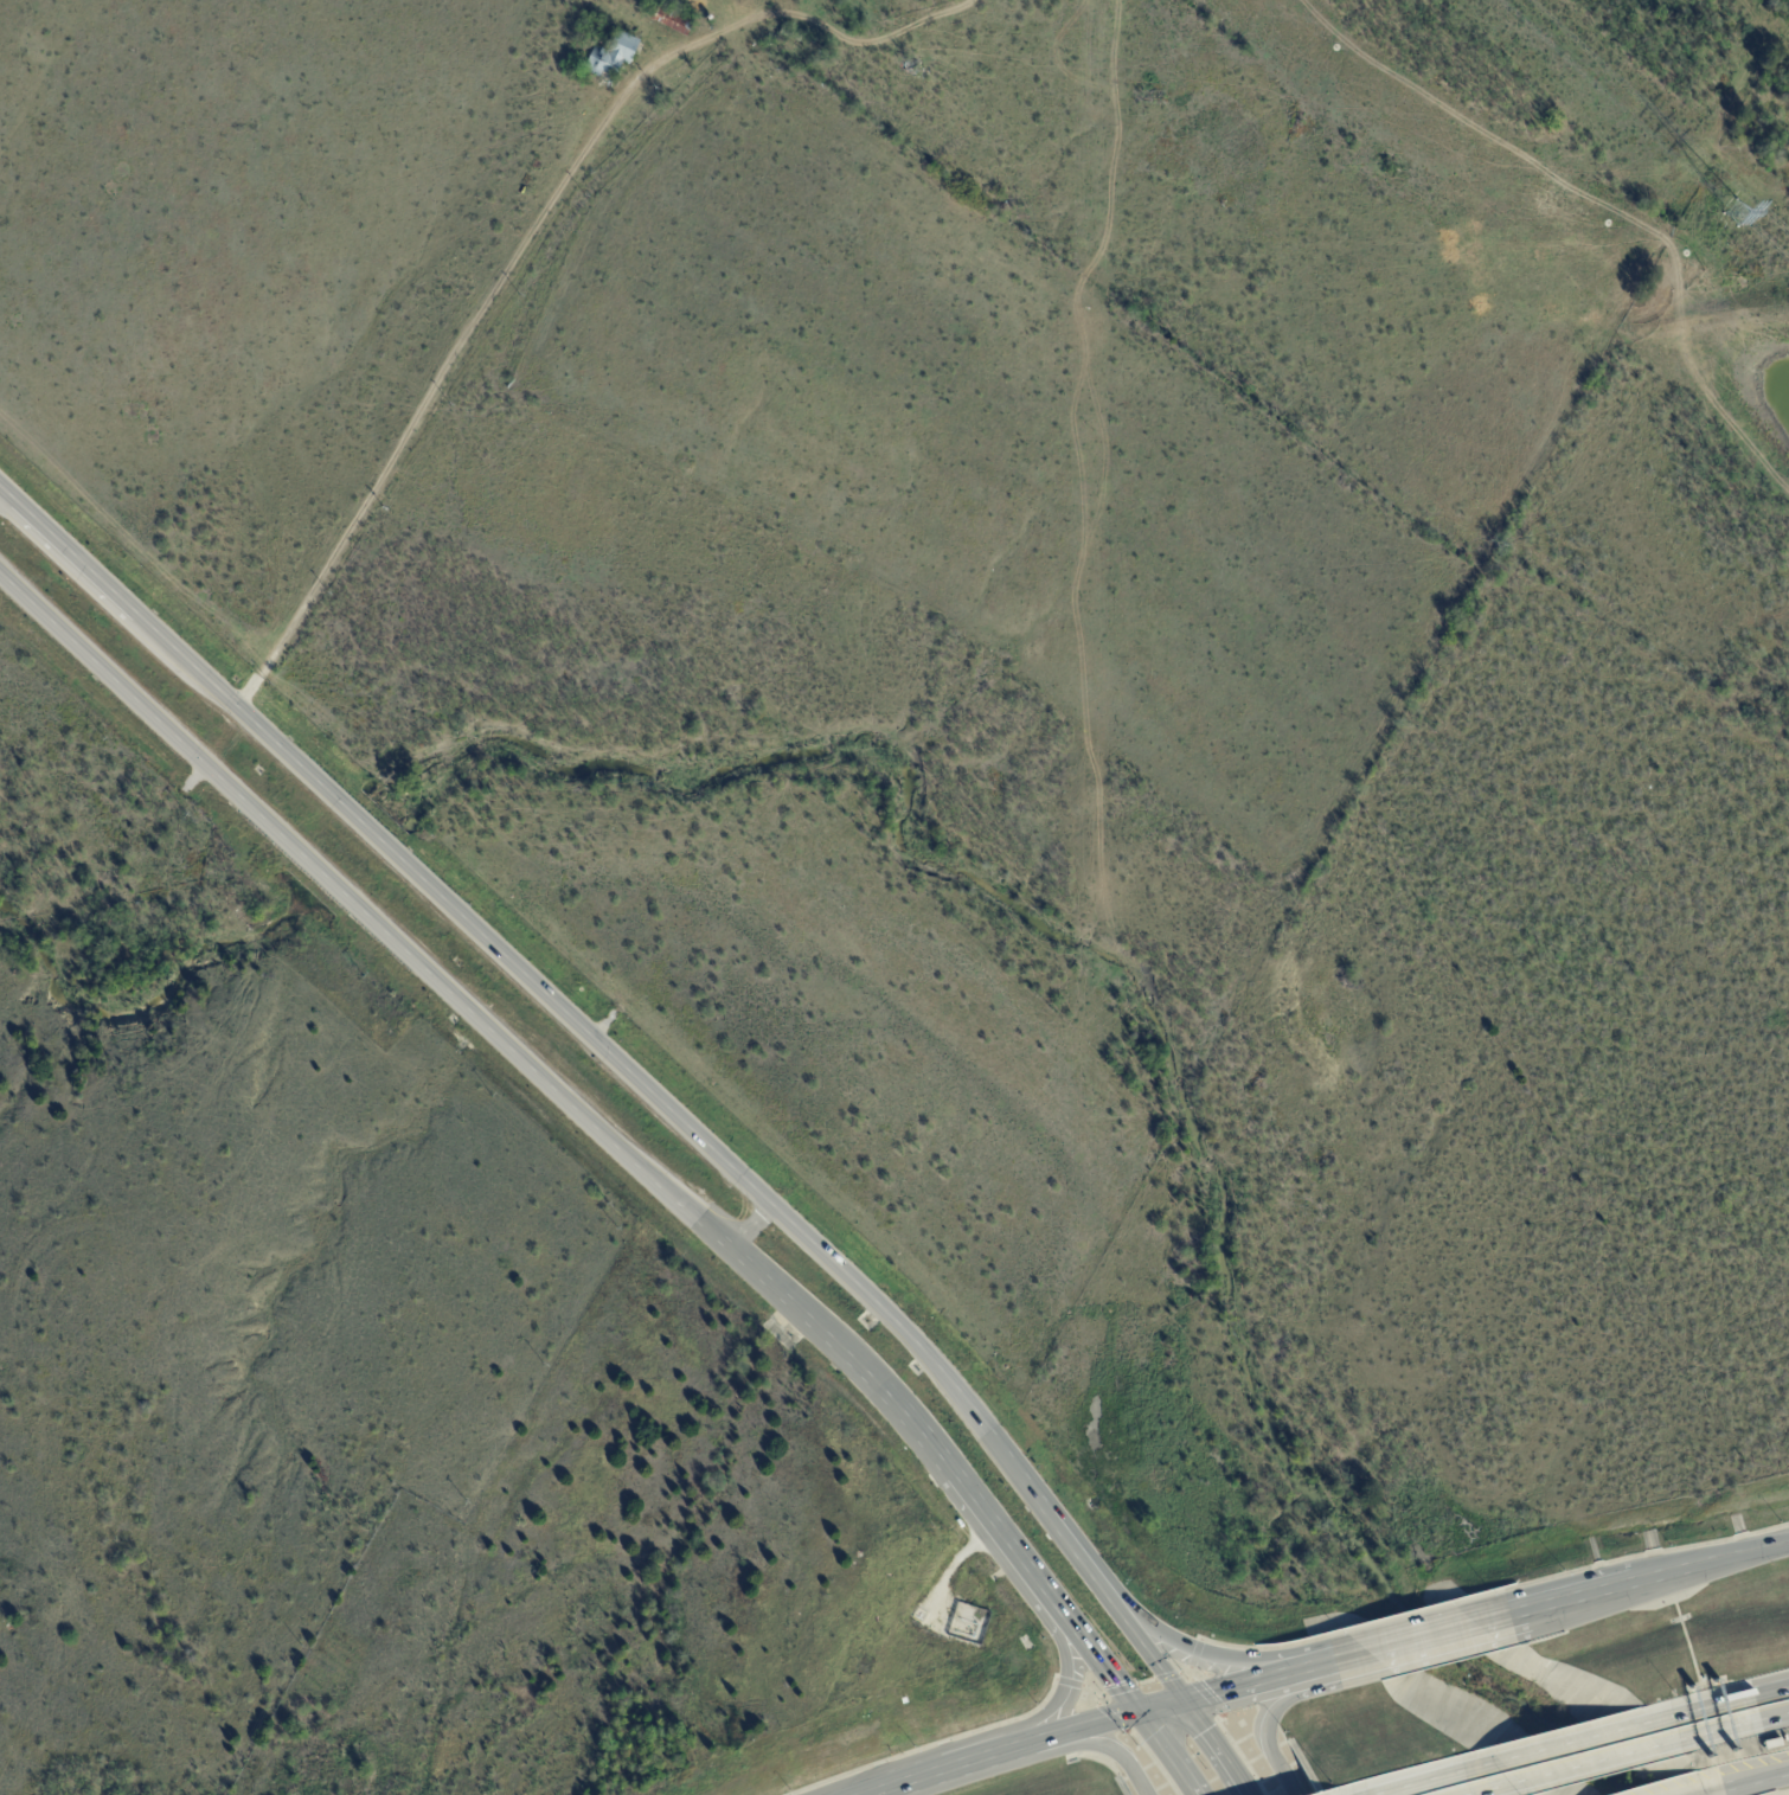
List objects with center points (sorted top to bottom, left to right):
building: (673, 20)
building: (789, 36)
building: (613, 57)
building: (588, 95)
power tower: (1740, 213)
road: (450, 354)
road: (76, 557)
road: (357, 900)
road: (598, 1044)
road: (746, 1232)
road: (725, 1245)
road: (804, 1318)
road: (911, 1424)
road: (1076, 1547)
road: (1009, 1549)
road: (1729, 1556)
road: (1599, 1589)
road: (1447, 1631)
road: (1084, 1645)
road: (1153, 1659)
road: (1345, 1660)
road: (1219, 1663)
road: (1253, 1682)
road: (1063, 1688)
road: (1118, 1688)
road: (1771, 1690)
traffic signals: (1181, 1701)
road: (1159, 1706)
road: (1694, 1710)
traffic signals: (1137, 1712)
road: (1774, 1716)
road: (1268, 1719)
road: (1081, 1726)
road: (1707, 1731)
road: (1155, 1736)
road: (1566, 1742)
road: (1098, 1743)
road: (1211, 1748)
road: (1588, 1763)
road: (945, 1769)
road: (1182, 1777)
road: (1425, 1777)
road: (1759, 1778)
road: (1490, 1788)
road: (1714, 1790)
road: (1781, 1793)

